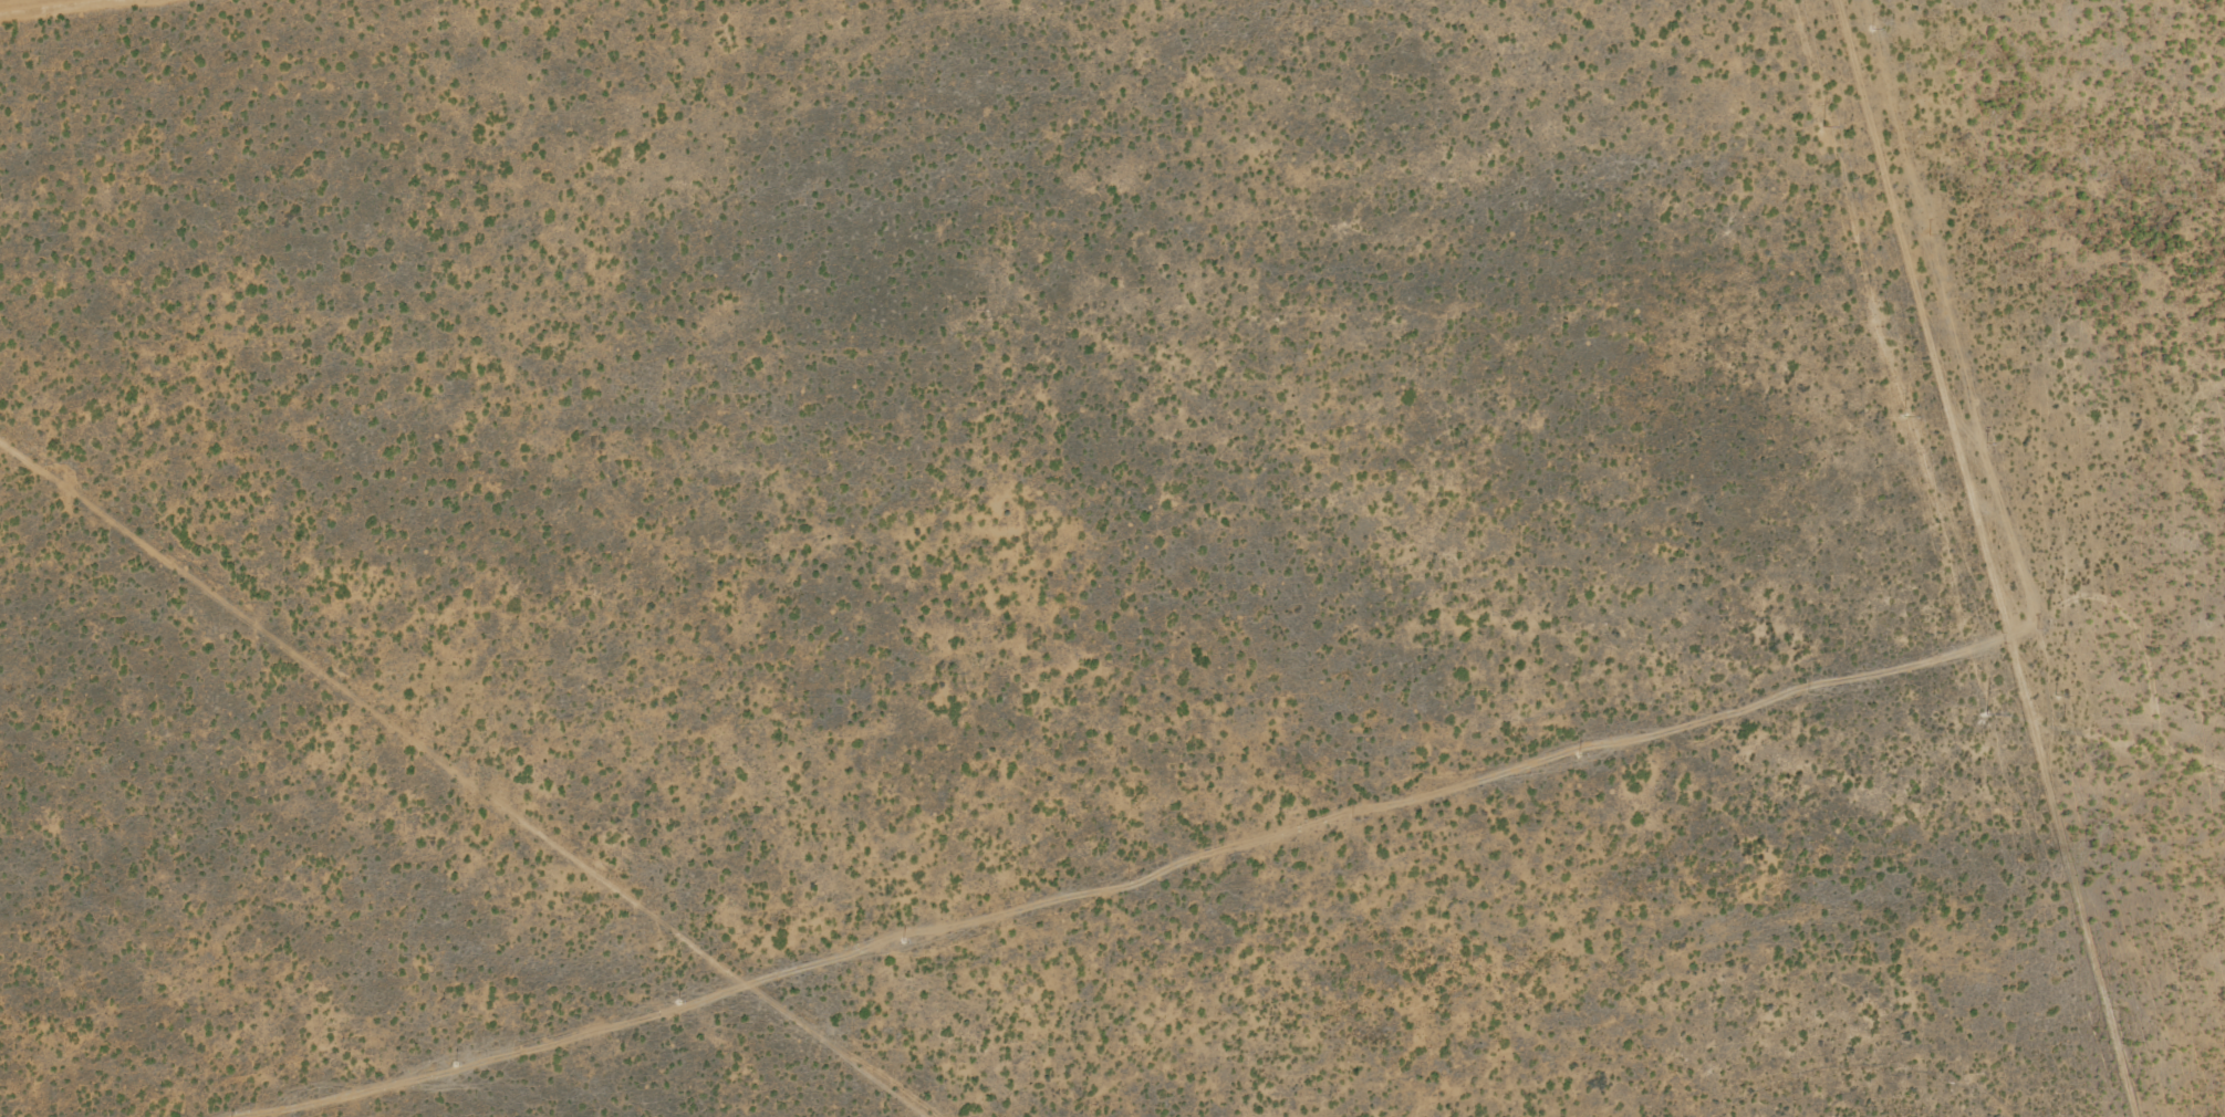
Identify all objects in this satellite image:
power tower: (1824, 126)
power tower: (1903, 416)
power tower: (1986, 716)

